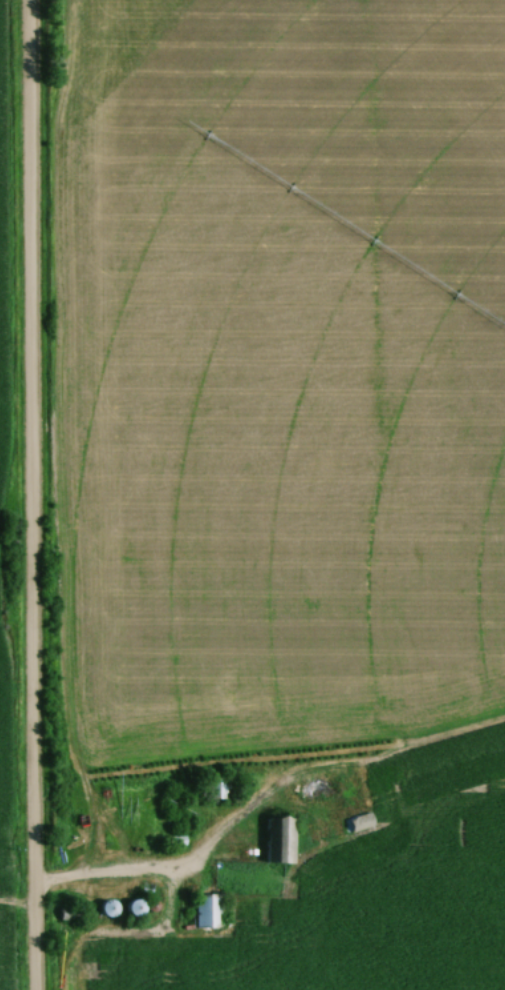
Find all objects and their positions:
road: (27, 494)
building: (219, 787)
building: (281, 840)
road: (110, 882)
building: (137, 907)
building: (109, 908)
building: (209, 911)
building: (71, 916)

